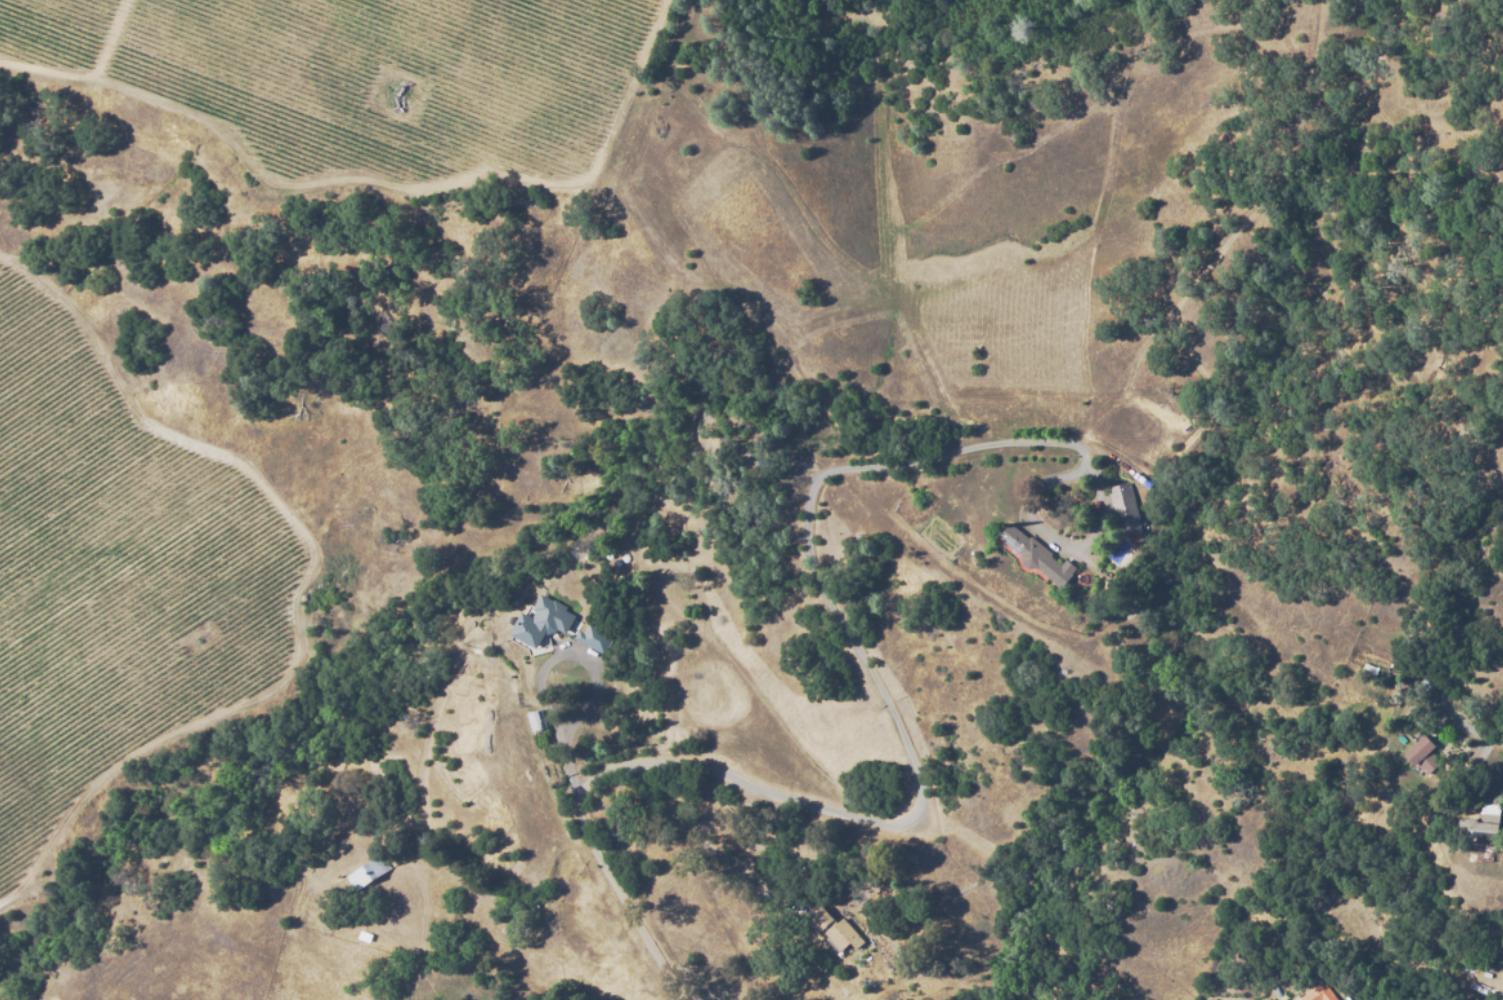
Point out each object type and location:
building: (1125, 511)
building: (1035, 556)
building: (549, 616)
building: (593, 638)
building: (537, 720)
road: (573, 722)
building: (1424, 752)
road: (924, 801)
building: (1483, 828)
building: (370, 872)
building: (835, 926)
building: (365, 936)
building: (1319, 993)

